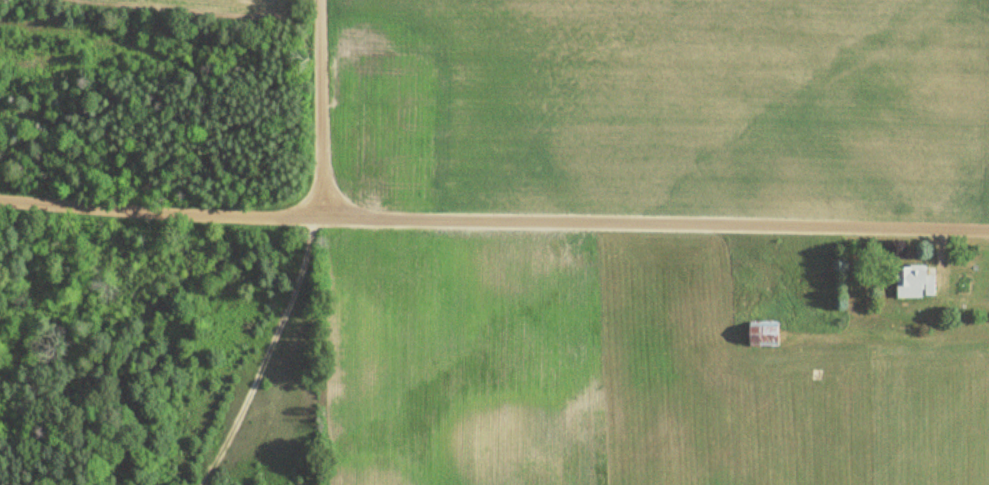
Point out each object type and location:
road: (326, 106)
road: (493, 215)
building: (914, 281)
building: (764, 334)
road: (261, 351)

